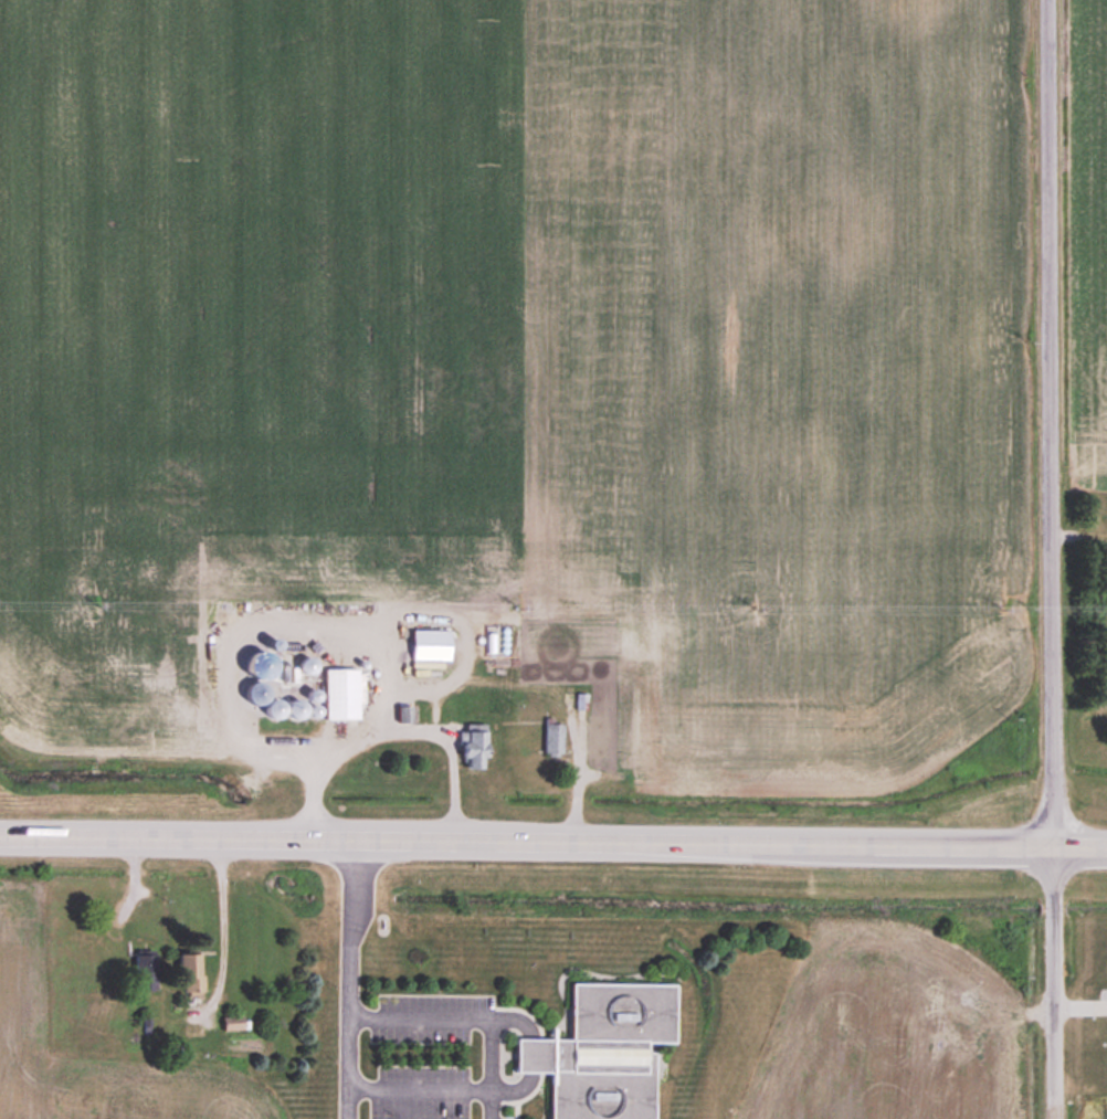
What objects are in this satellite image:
crop: (1086, 241)
crop: (526, 360)
road: (1051, 559)
silo: (274, 643)
building: (430, 644)
silo: (308, 664)
silo: (256, 692)
building: (344, 692)
silo: (314, 694)
building: (581, 699)
silo: (274, 707)
silo: (296, 708)
silo: (314, 709)
building: (404, 711)
building: (451, 712)
building: (599, 736)
building: (553, 738)
building: (475, 745)
road: (552, 843)
road: (223, 928)
crop: (23, 946)
building: (191, 973)
building: (147, 975)
road: (349, 979)
road: (1079, 1007)
road: (471, 1017)
building: (235, 1022)
crop: (889, 1030)
building: (604, 1051)
parking lot: (425, 1058)
road: (419, 1090)
crop: (1106, 1117)

